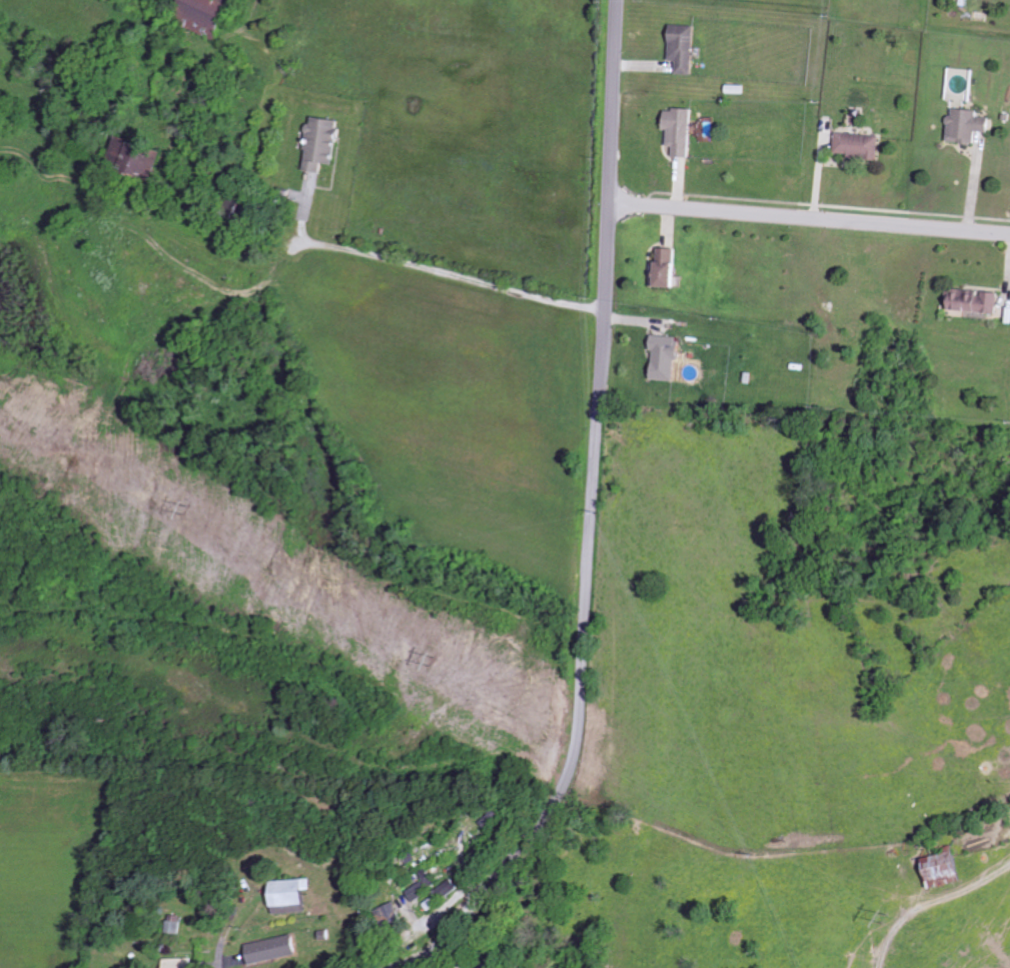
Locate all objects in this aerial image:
building: (209, 15)
building: (686, 49)
building: (738, 89)
building: (970, 125)
building: (683, 130)
building: (325, 143)
building: (861, 145)
building: (138, 156)
road: (809, 218)
road: (422, 268)
building: (669, 268)
building: (978, 300)
building: (668, 356)
road: (591, 512)
building: (948, 868)
building: (425, 885)
building: (449, 888)
building: (295, 896)
building: (392, 914)
building: (177, 924)
building: (276, 949)
road: (217, 955)
building: (186, 963)
building: (495, 967)

